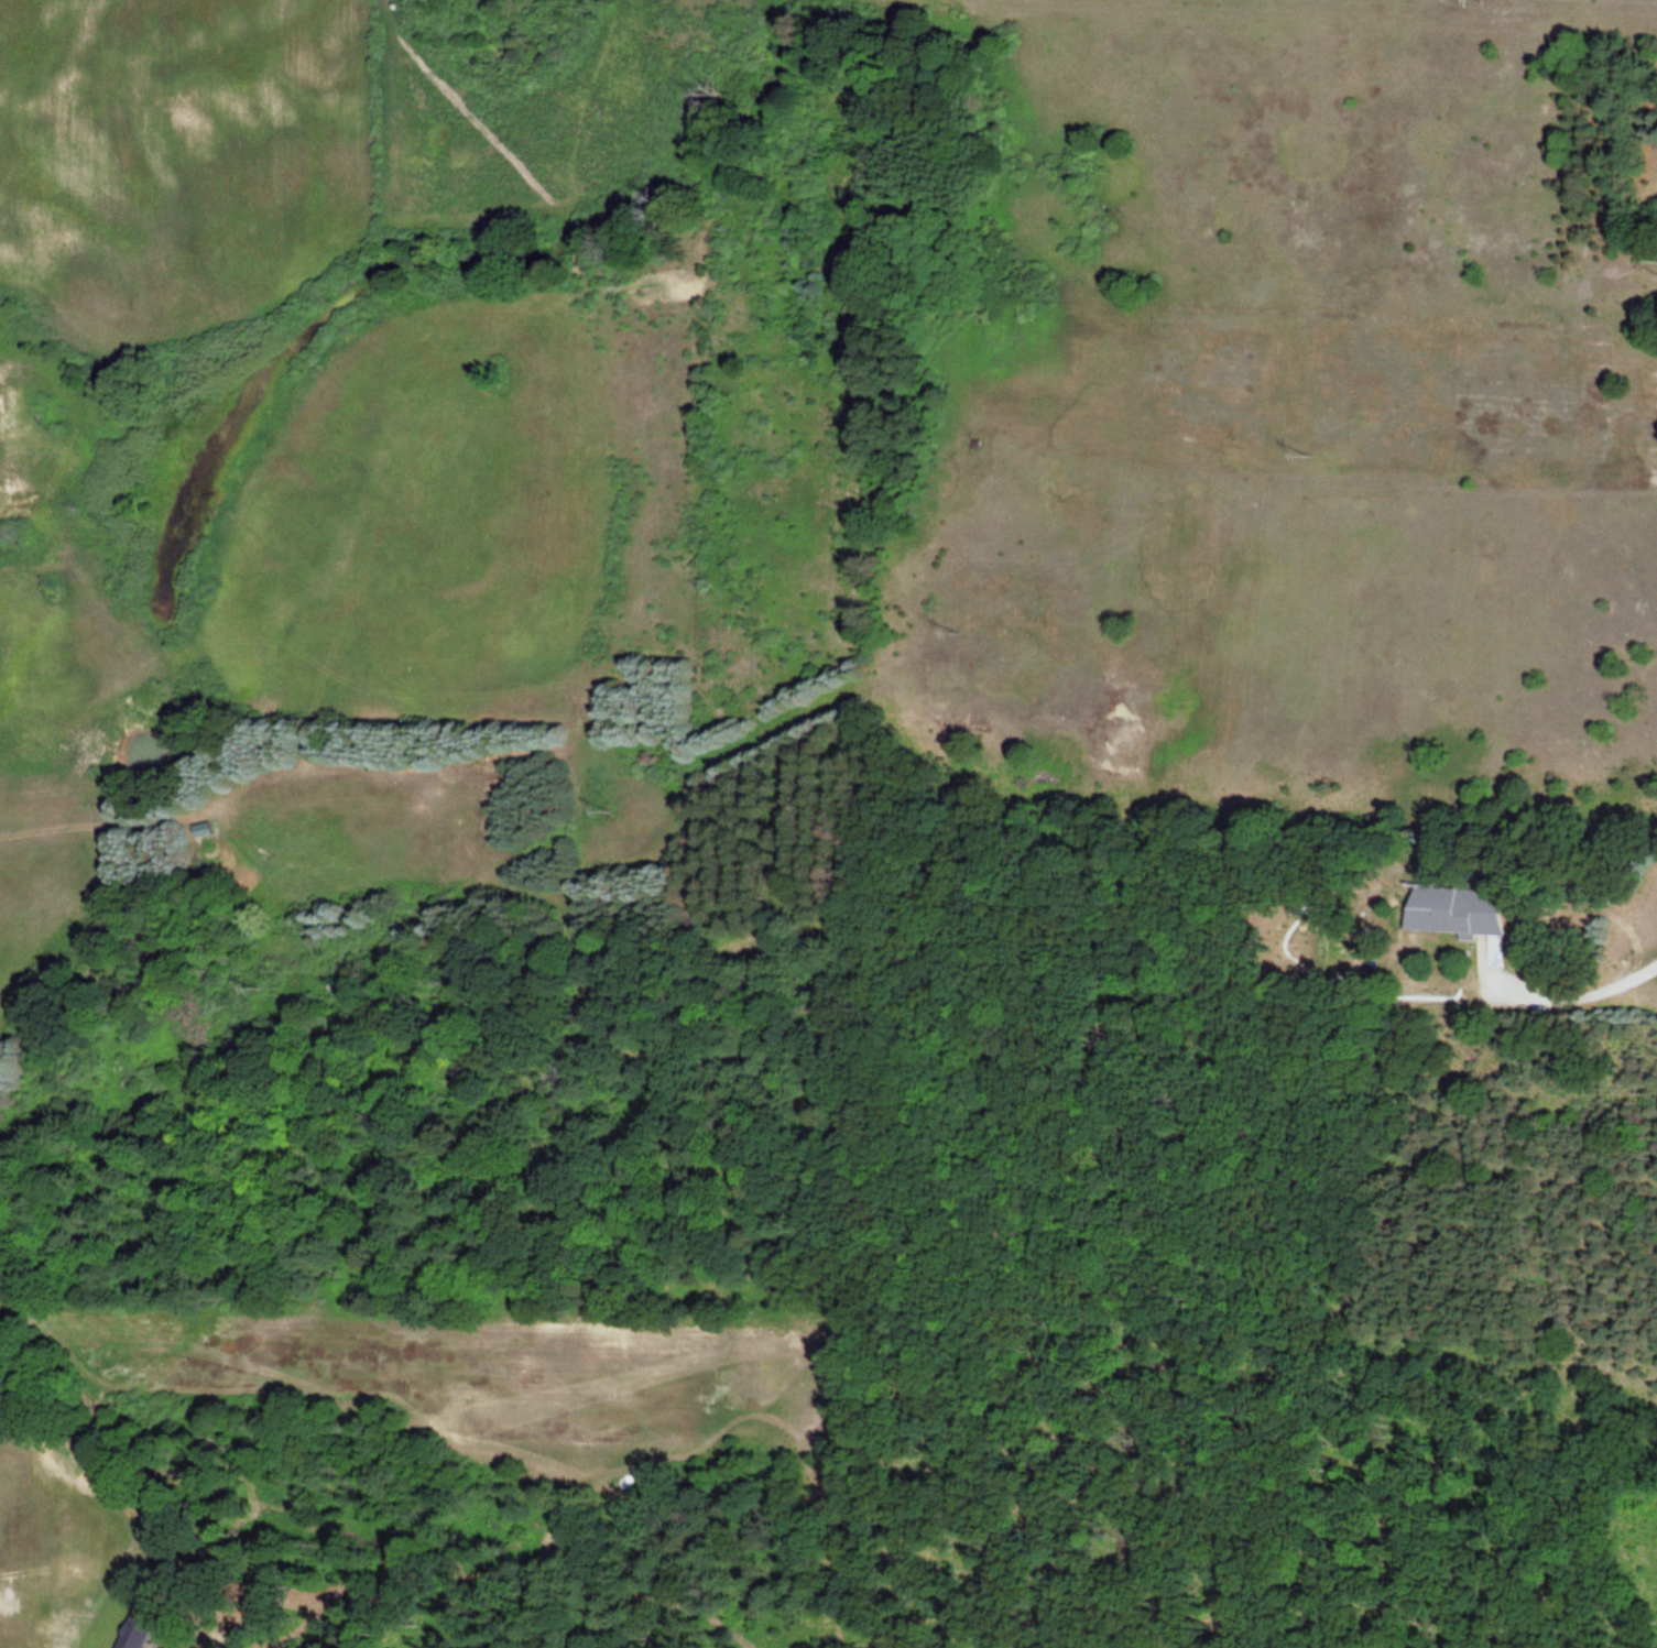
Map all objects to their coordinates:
building: (1453, 912)

